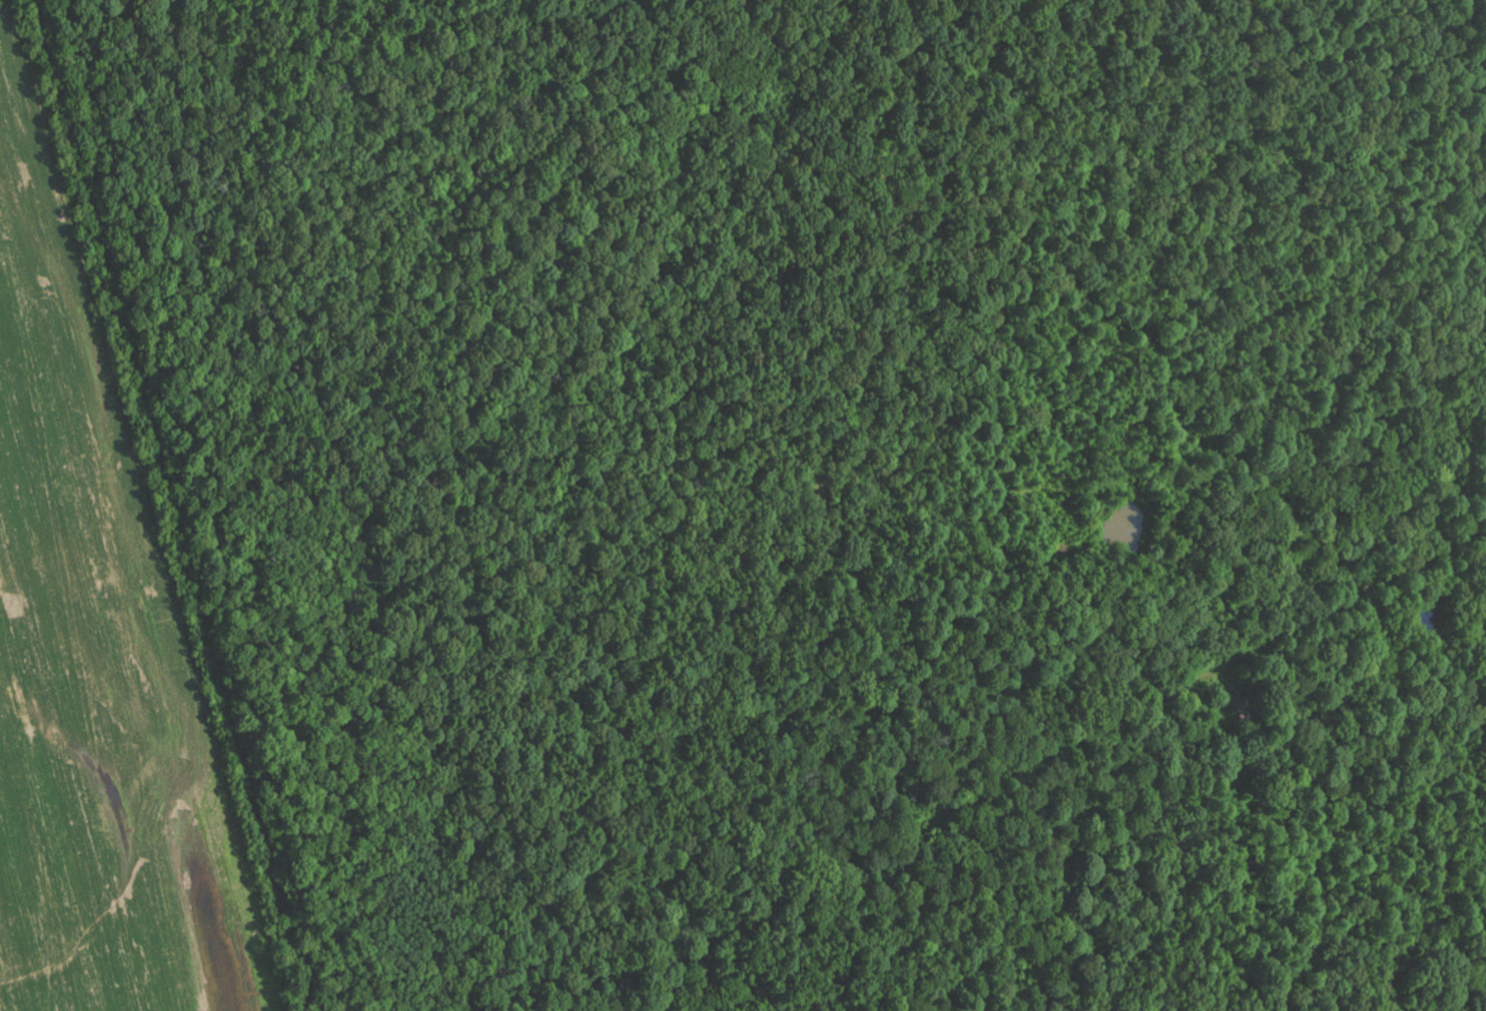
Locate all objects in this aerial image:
road: (1391, 304)
road: (736, 400)
road: (1066, 697)

